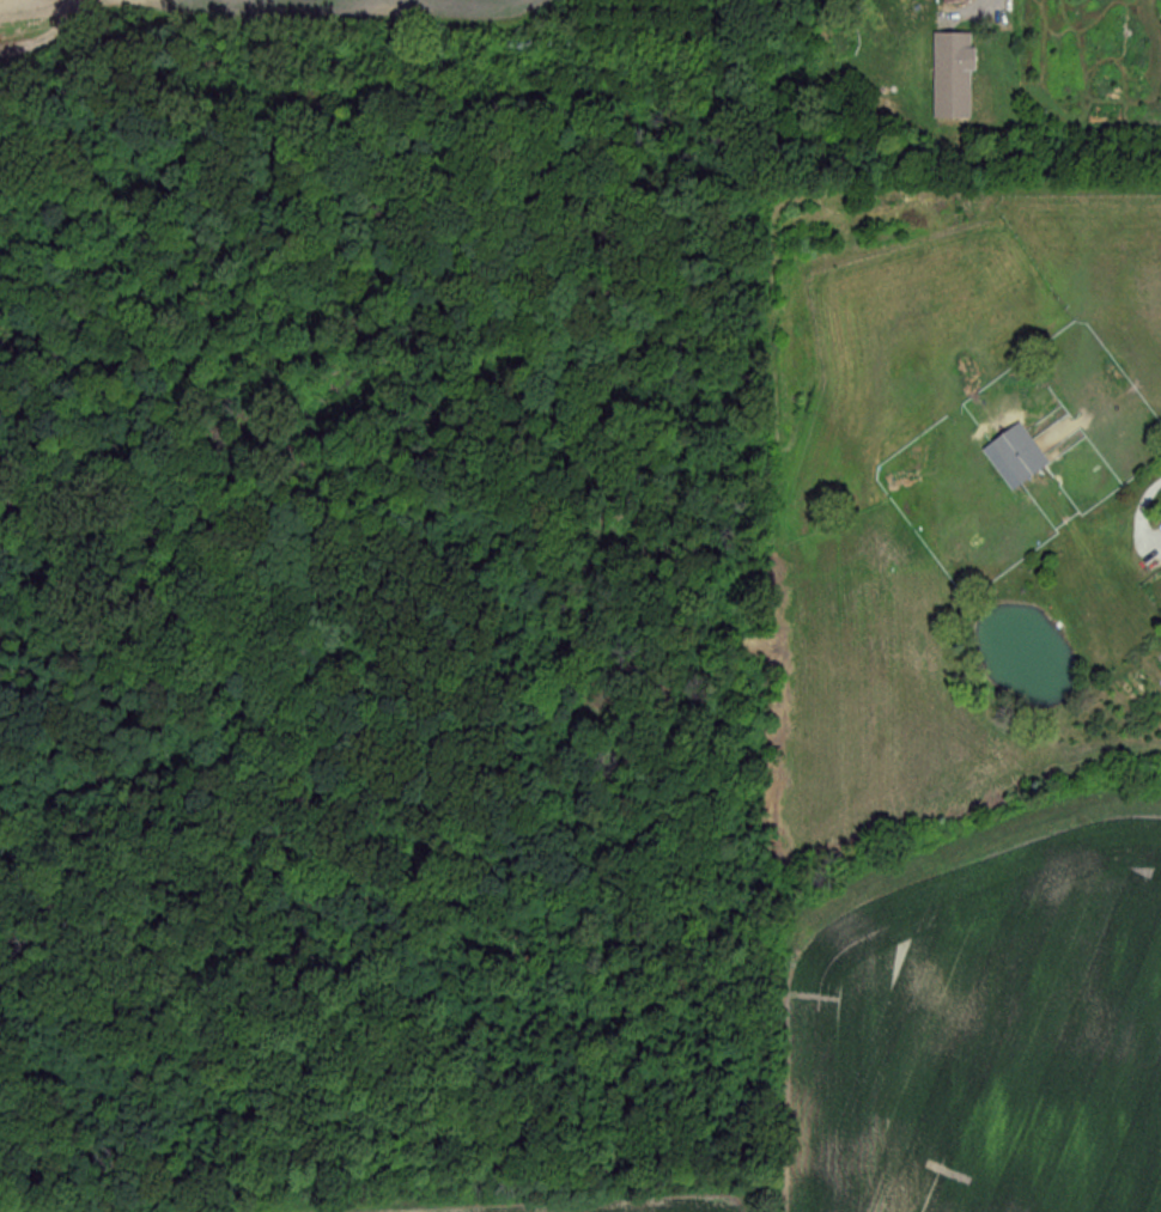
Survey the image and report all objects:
building: (950, 74)
building: (1016, 452)

